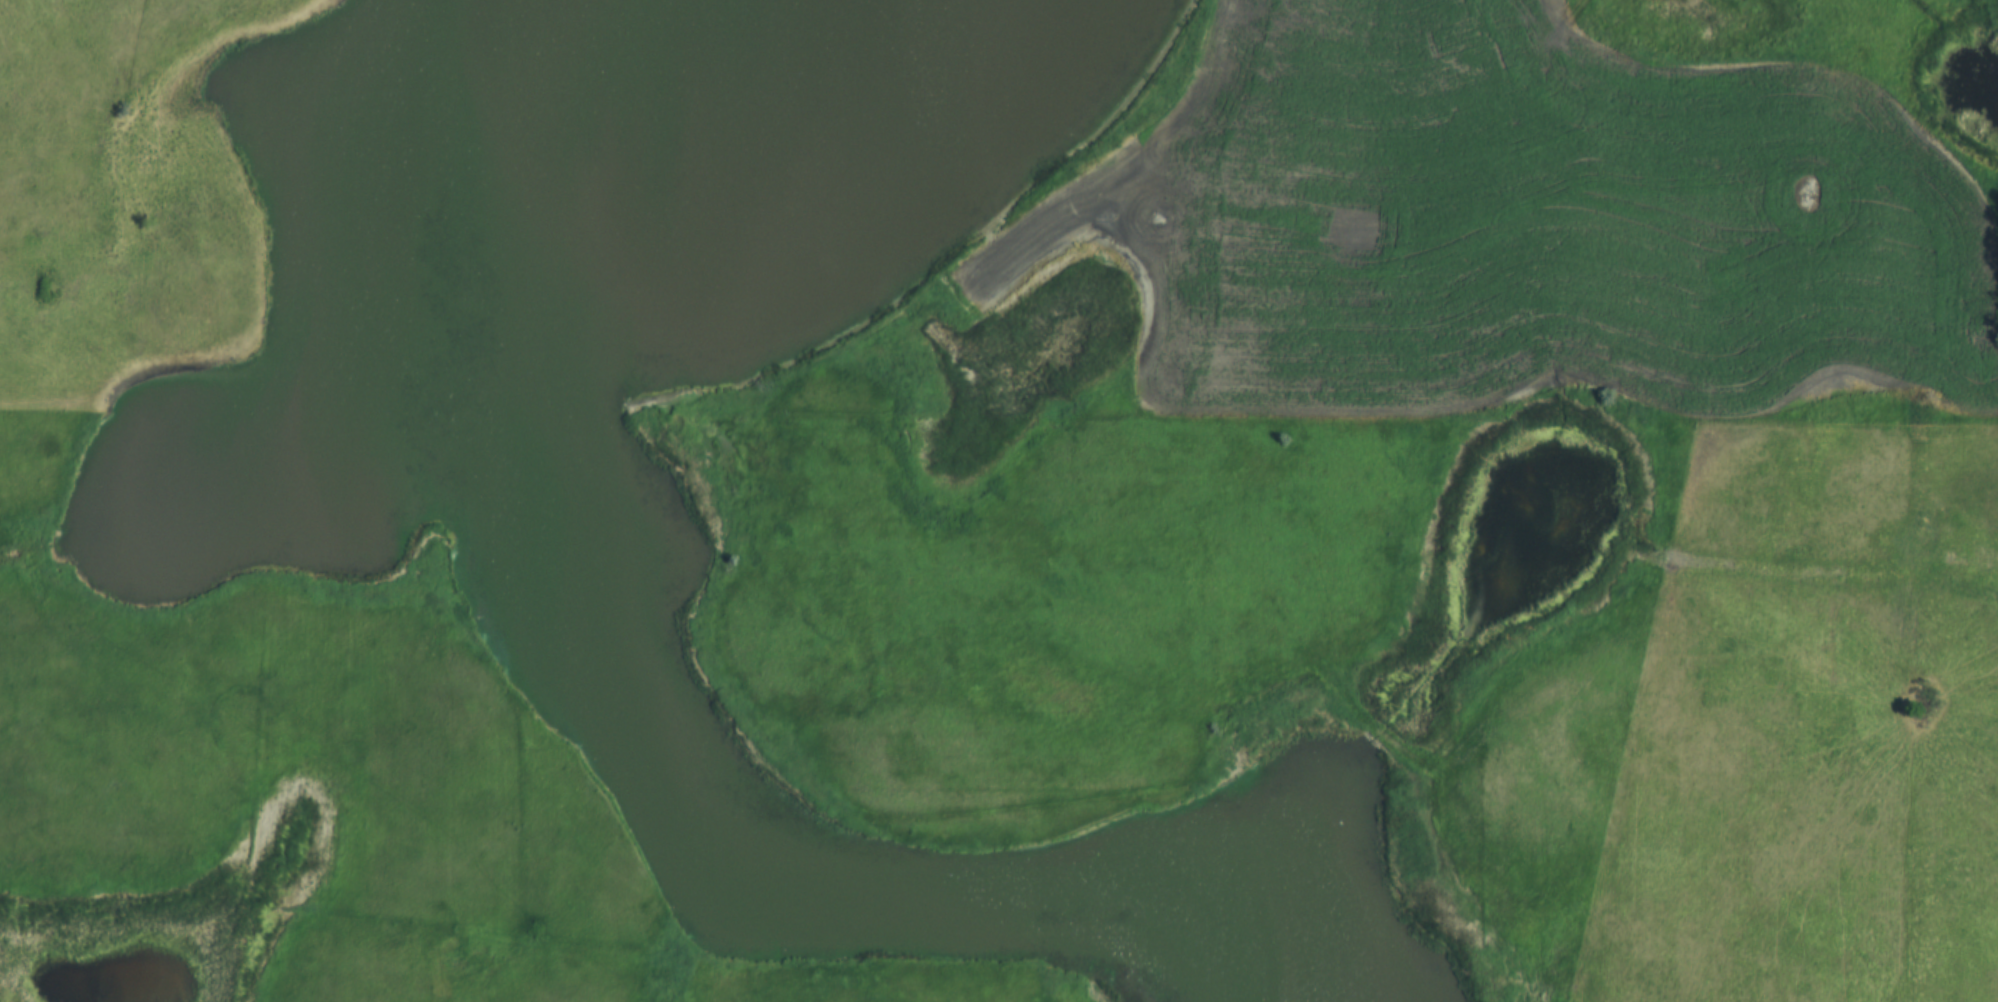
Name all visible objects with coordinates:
river: (520, 526)

